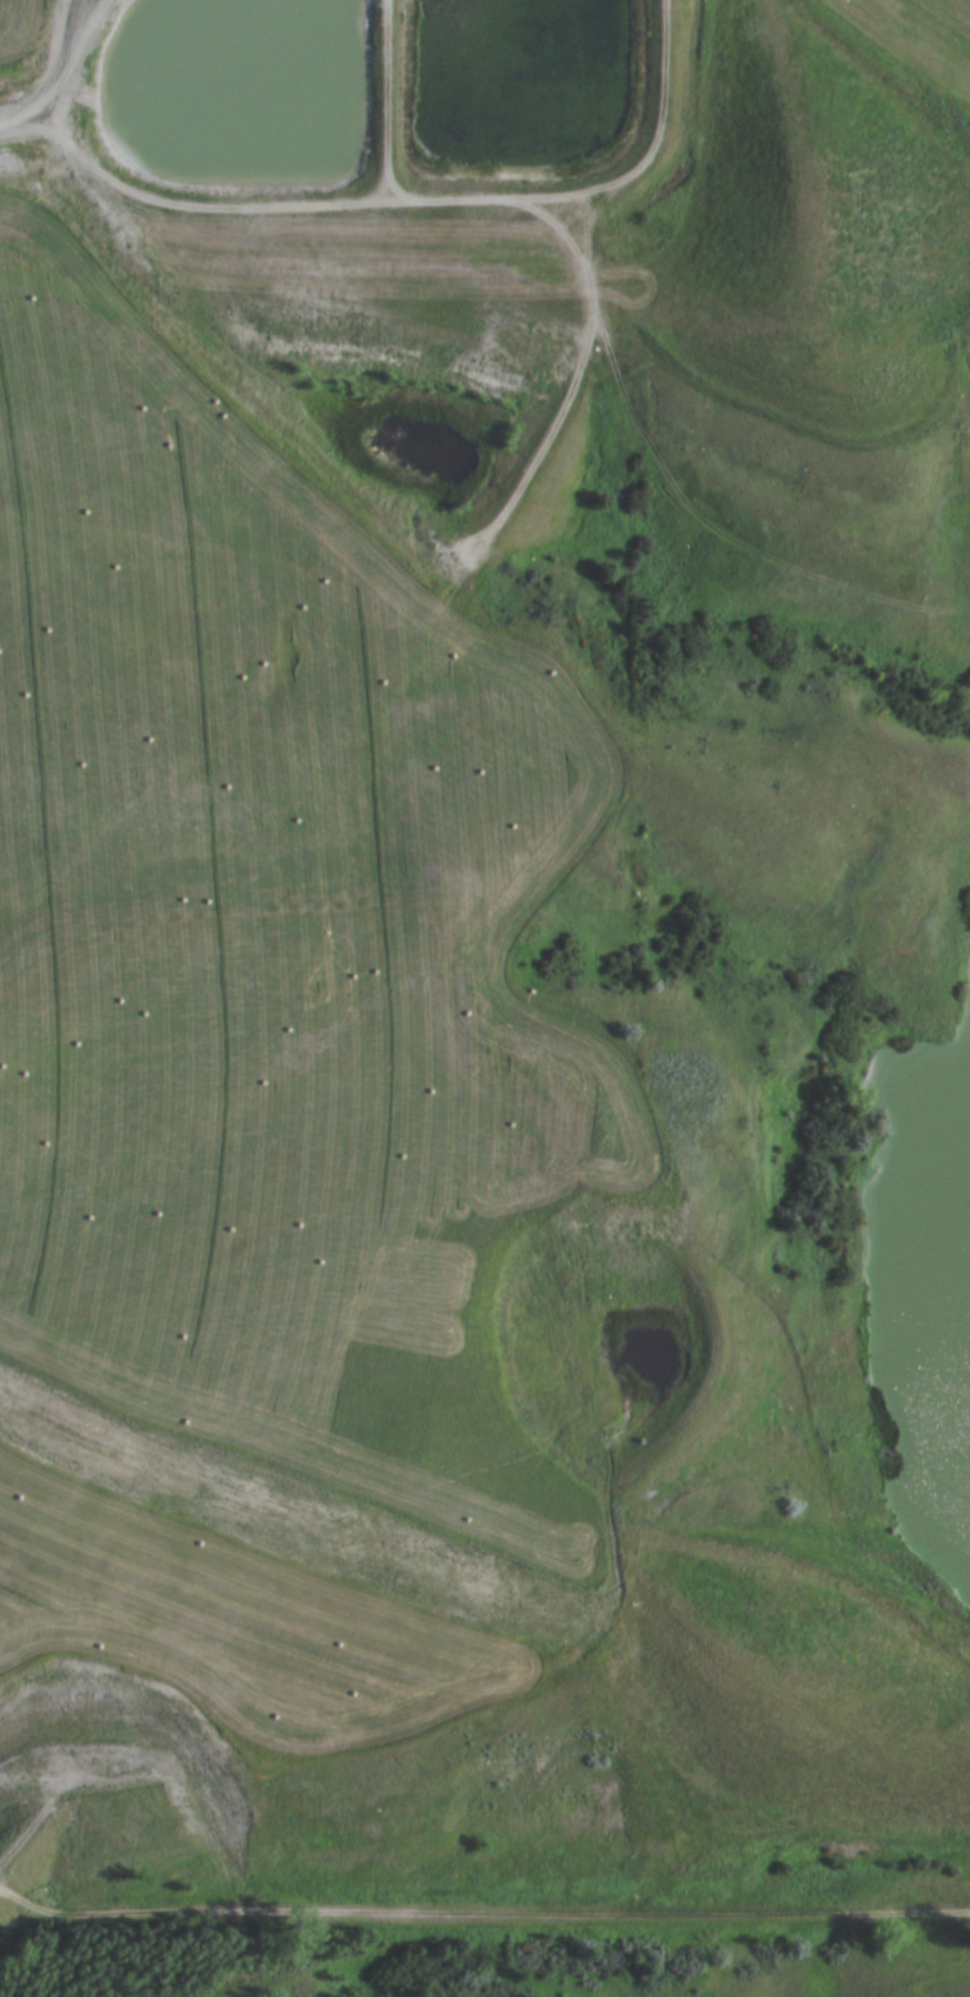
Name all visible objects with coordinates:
road: (511, 1914)

